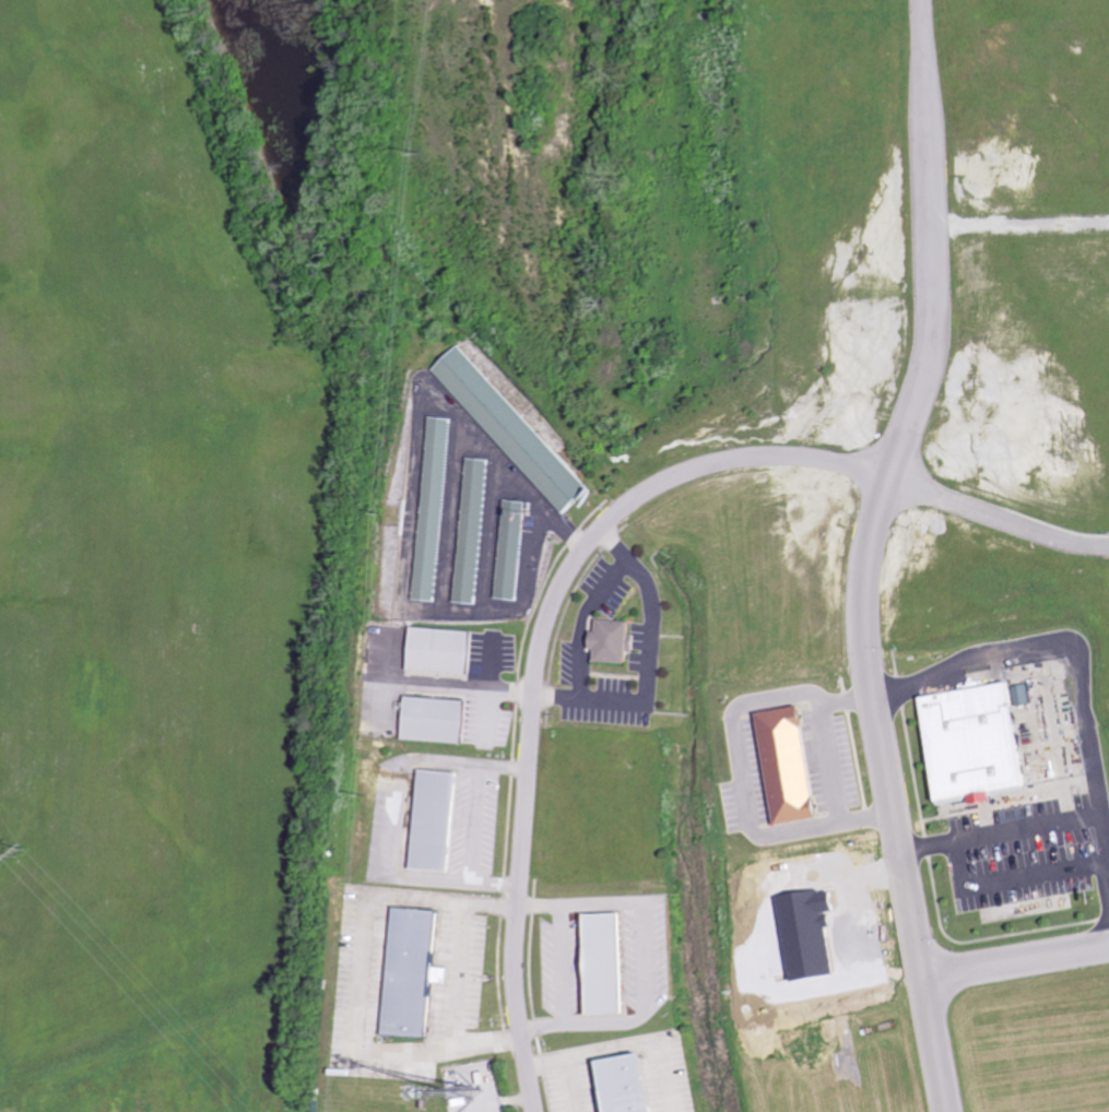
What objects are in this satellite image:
road: (1017, 223)
building: (515, 429)
building: (432, 509)
building: (472, 531)
road: (575, 548)
building: (511, 549)
road: (862, 555)
building: (615, 642)
road: (1063, 642)
building: (440, 651)
road: (487, 679)
building: (1023, 695)
road: (489, 698)
road: (628, 700)
building: (436, 720)
building: (978, 742)
road: (834, 764)
road: (500, 766)
building: (793, 766)
building: (435, 821)
road: (475, 823)
road: (1001, 836)
road: (493, 884)
road: (1013, 961)
building: (610, 963)
building: (414, 973)
building: (627, 1084)

